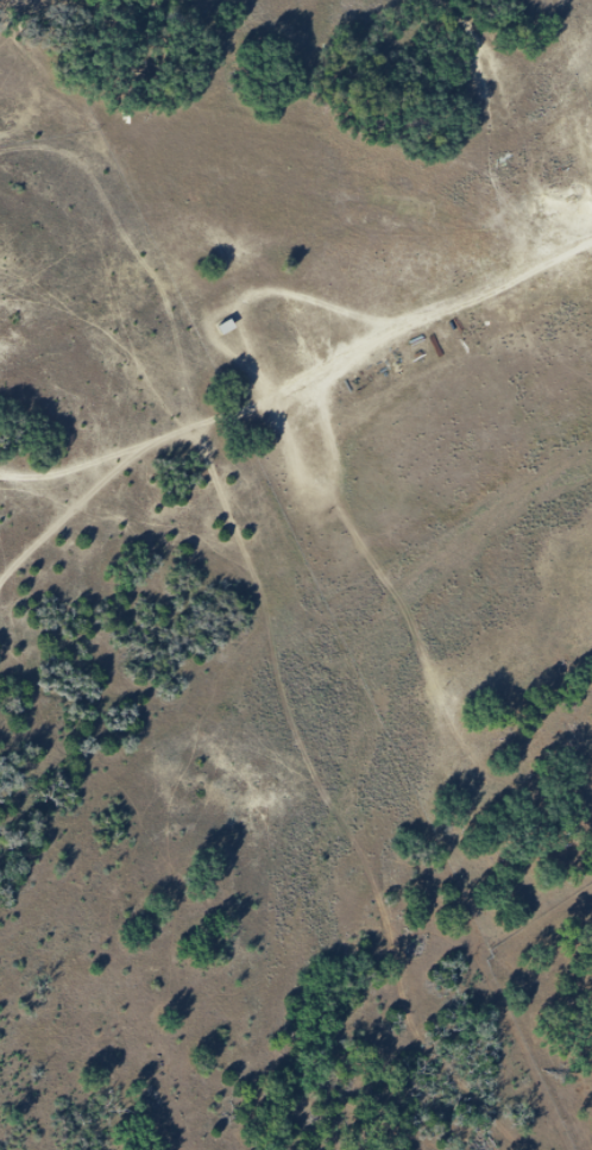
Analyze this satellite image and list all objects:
road: (303, 387)

